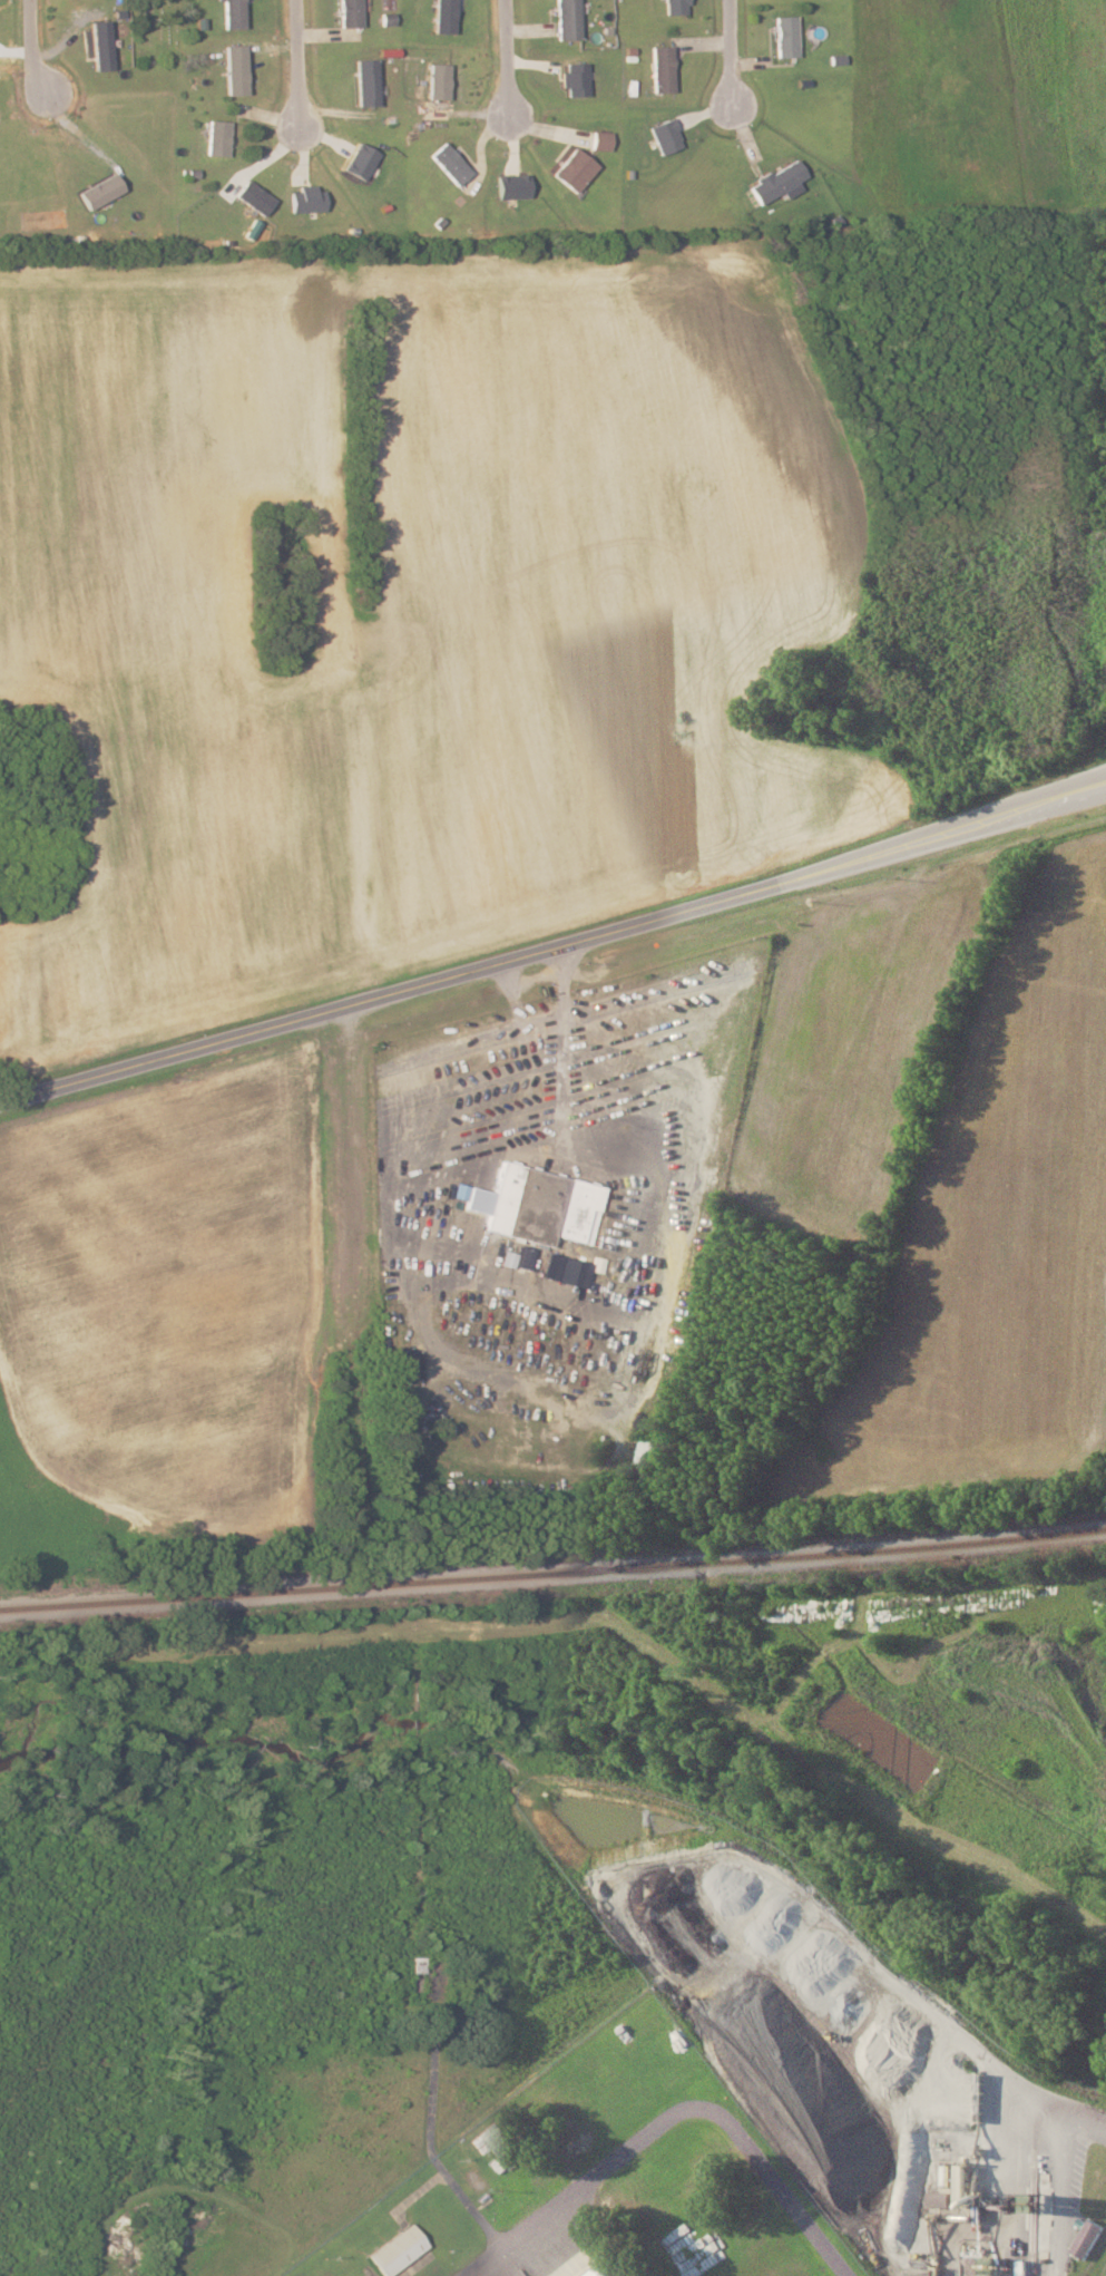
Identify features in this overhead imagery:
building: (676, 6)
building: (233, 13)
building: (350, 13)
building: (444, 16)
building: (568, 19)
building: (785, 37)
building: (99, 42)
road: (31, 47)
road: (731, 52)
road: (507, 60)
road: (297, 62)
building: (235, 68)
building: (663, 69)
building: (576, 77)
building: (438, 80)
building: (365, 81)
building: (666, 135)
building: (217, 138)
building: (601, 140)
building: (360, 161)
building: (449, 164)
building: (575, 171)
building: (777, 182)
building: (511, 185)
building: (100, 189)
building: (253, 195)
building: (306, 198)
road: (552, 942)
building: (537, 1206)
building: (516, 1258)
railway: (552, 1573)
building: (938, 2198)
building: (1087, 2238)
building: (395, 2249)
building: (606, 2270)

